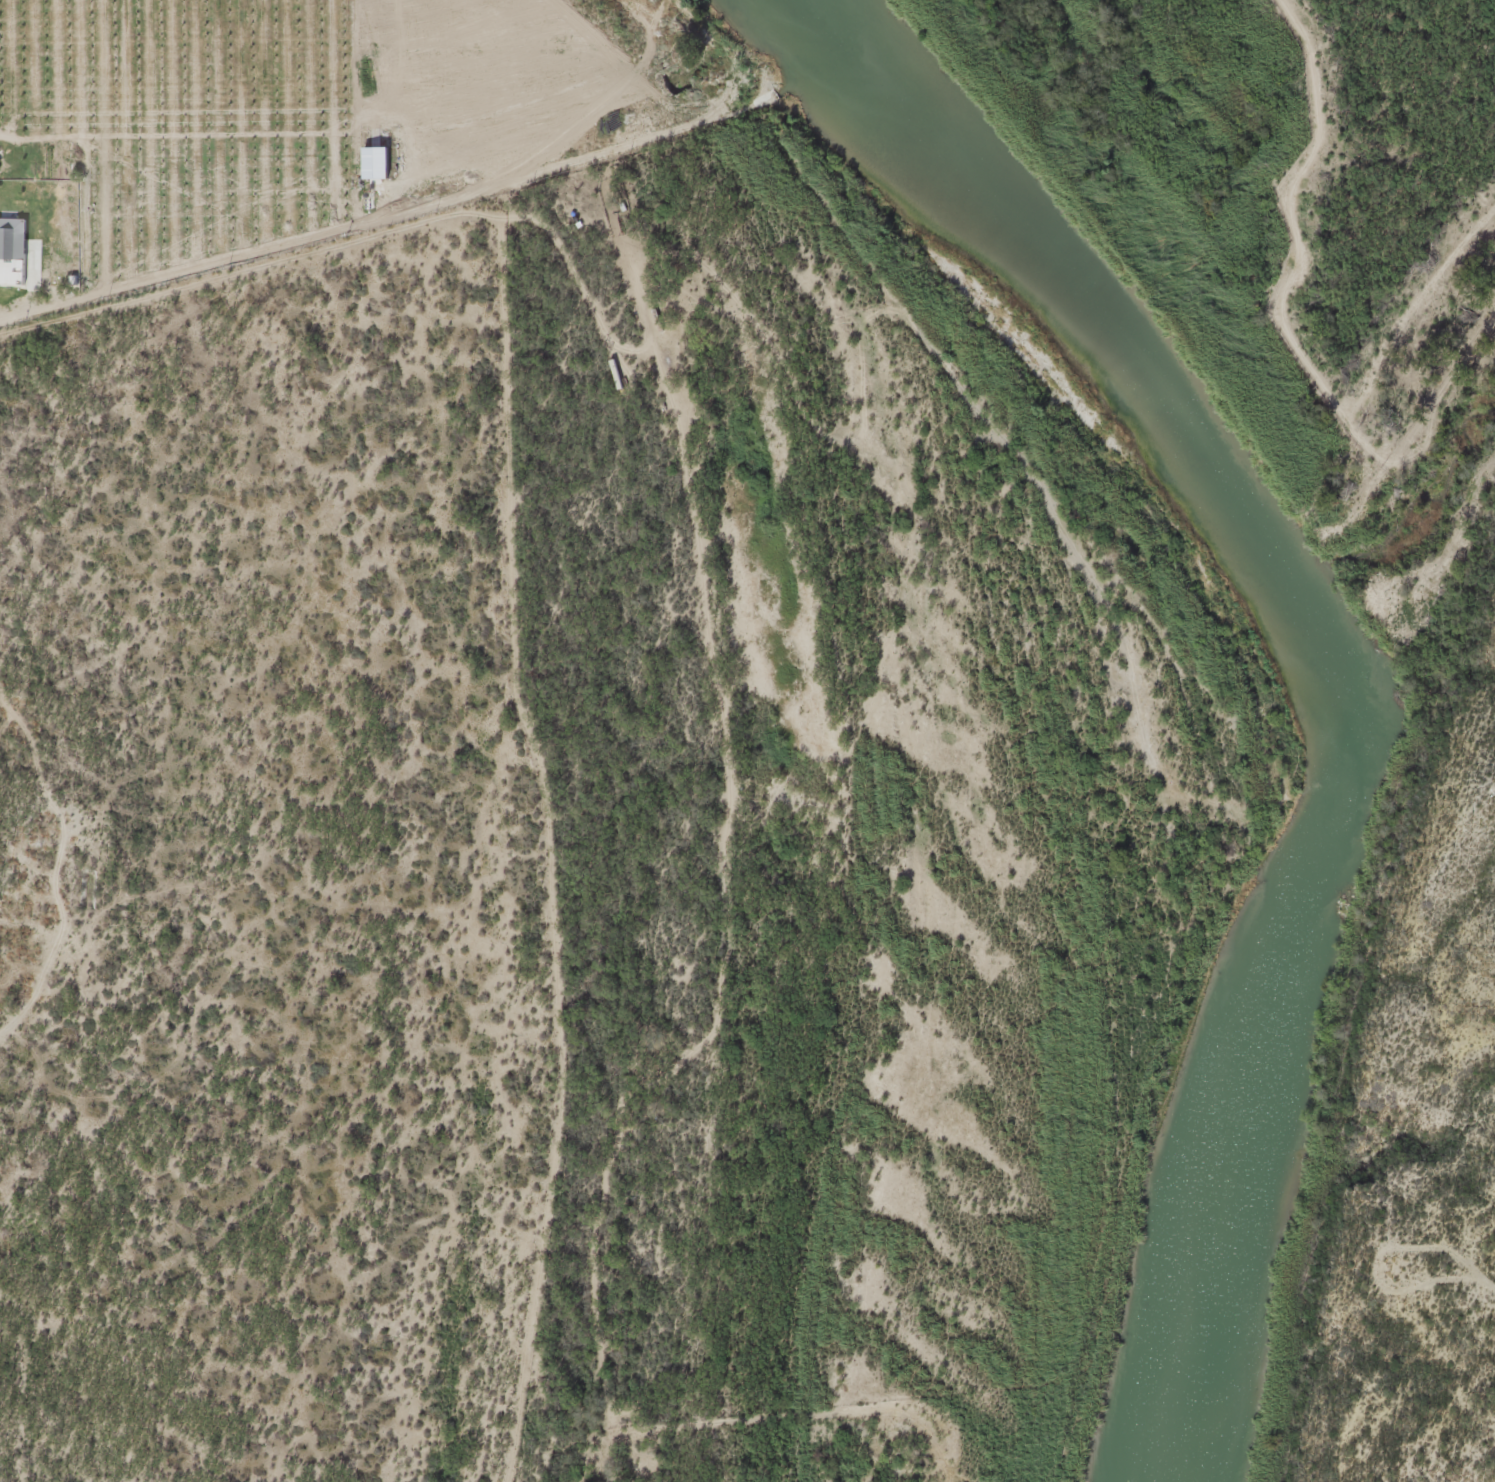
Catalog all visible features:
river: (1318, 667)
road: (1444, 1284)

